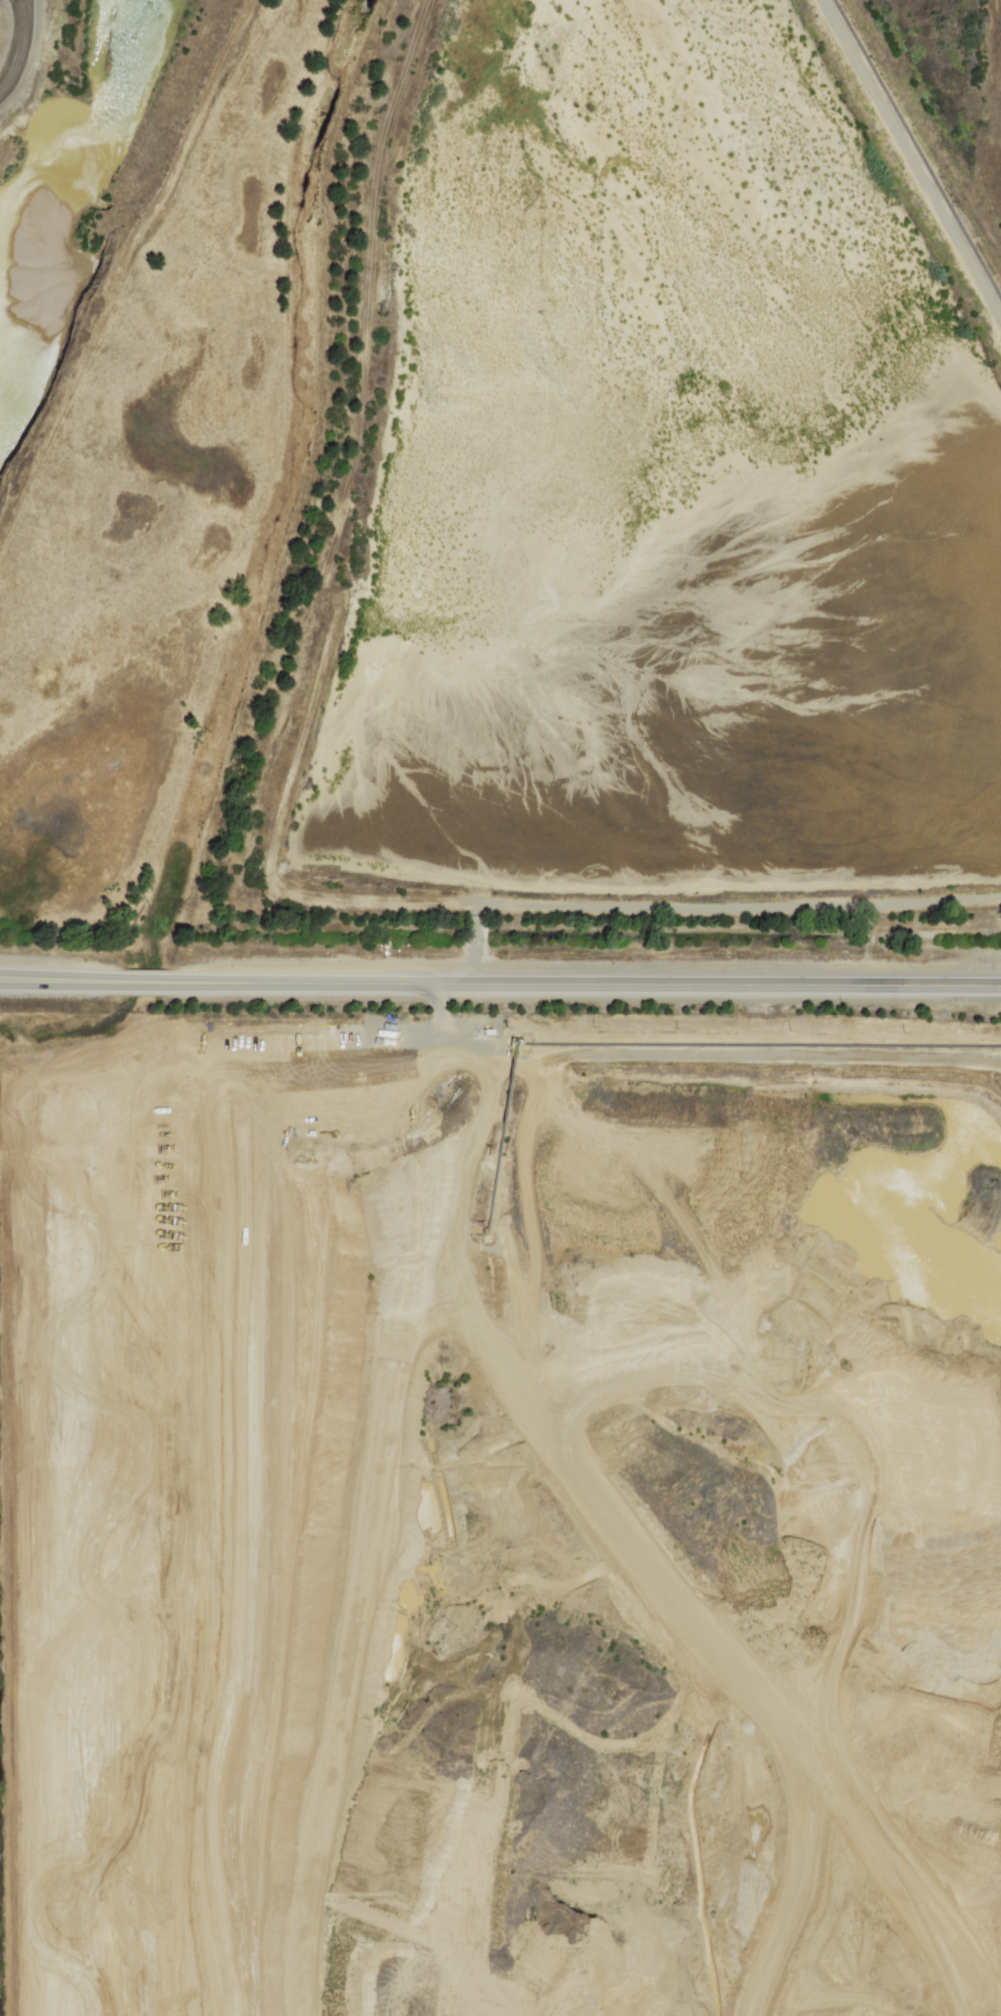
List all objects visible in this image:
road: (20, 48)
road: (53, 981)
road: (141, 982)
road: (588, 983)

